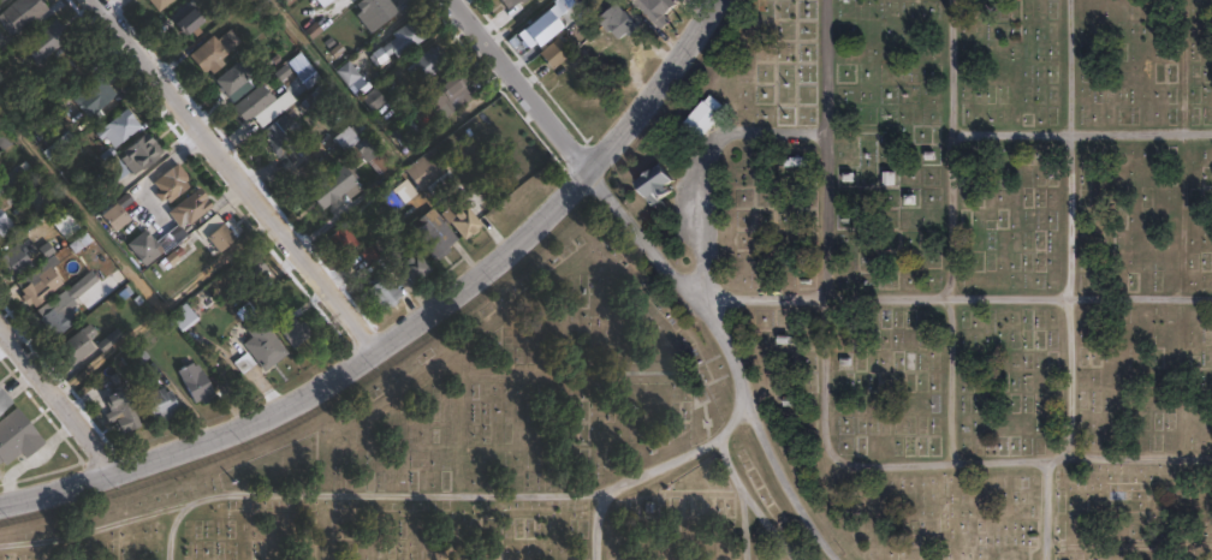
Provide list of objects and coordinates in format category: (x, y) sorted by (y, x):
building: (1, 1)
building: (287, 2)
building: (326, 2)
building: (512, 2)
building: (161, 4)
building: (655, 7)
building: (375, 12)
building: (23, 13)
building: (194, 22)
building: (552, 22)
building: (617, 23)
building: (400, 41)
building: (44, 43)
building: (553, 53)
building: (569, 53)
building: (214, 54)
building: (429, 64)
building: (70, 65)
building: (349, 73)
building: (234, 79)
road: (522, 84)
building: (447, 96)
building: (95, 100)
building: (374, 100)
building: (255, 103)
building: (696, 109)
building: (120, 130)
building: (405, 133)
road: (1082, 133)
building: (5, 138)
building: (279, 138)
building: (346, 139)
building: (142, 154)
building: (372, 155)
road: (703, 163)
building: (428, 169)
building: (118, 172)
building: (649, 174)
road: (238, 177)
building: (11, 180)
building: (178, 183)
building: (335, 189)
building: (41, 201)
building: (195, 205)
building: (120, 213)
building: (462, 219)
building: (5, 226)
road: (1075, 228)
road: (956, 230)
building: (218, 233)
building: (436, 236)
building: (343, 239)
building: (160, 245)
building: (14, 262)
building: (410, 264)
building: (251, 270)
building: (385, 292)
building: (36, 293)
road: (955, 294)
building: (203, 299)
building: (58, 320)
building: (179, 321)
park: (801, 326)
road: (411, 328)
building: (295, 330)
building: (265, 345)
building: (77, 346)
road: (726, 358)
building: (195, 385)
building: (5, 399)
road: (59, 401)
building: (160, 405)
building: (119, 416)
road: (824, 421)
building: (18, 437)
road: (387, 496)
road: (741, 496)
road: (1045, 510)
road: (767, 524)
road: (594, 528)
road: (172, 529)

